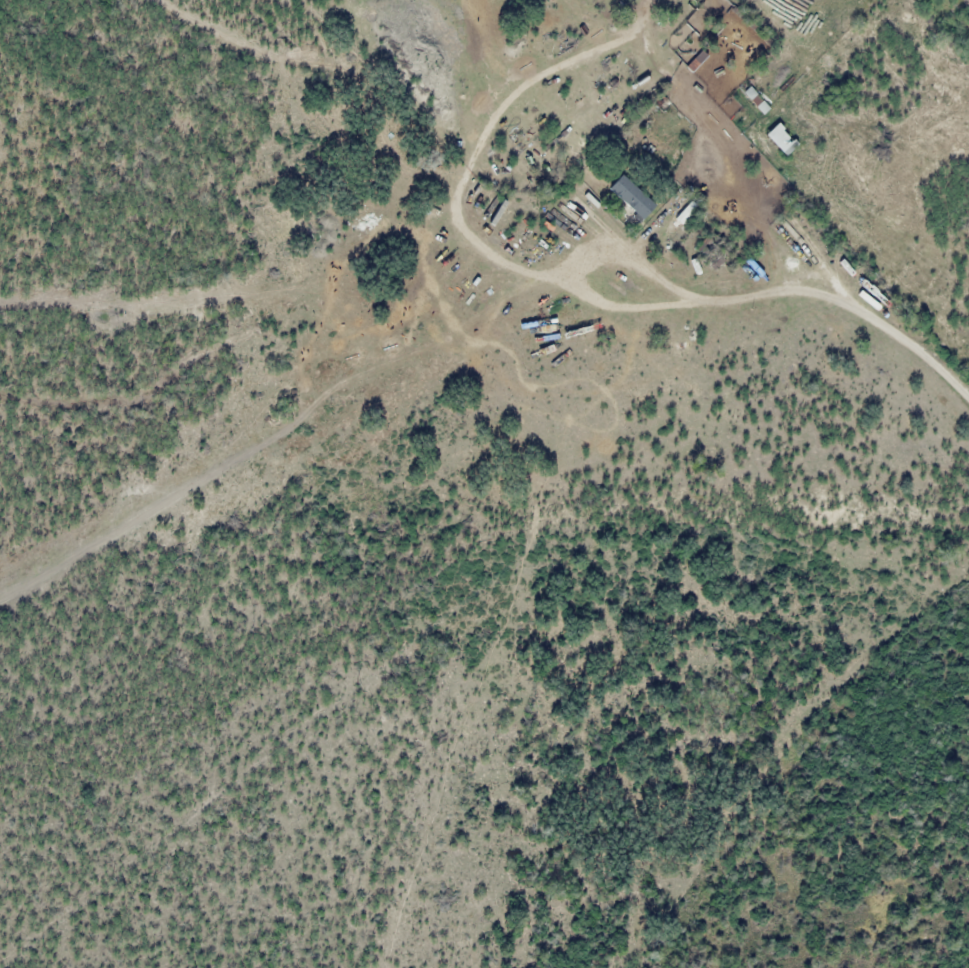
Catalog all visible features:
building: (778, 139)
building: (629, 196)

